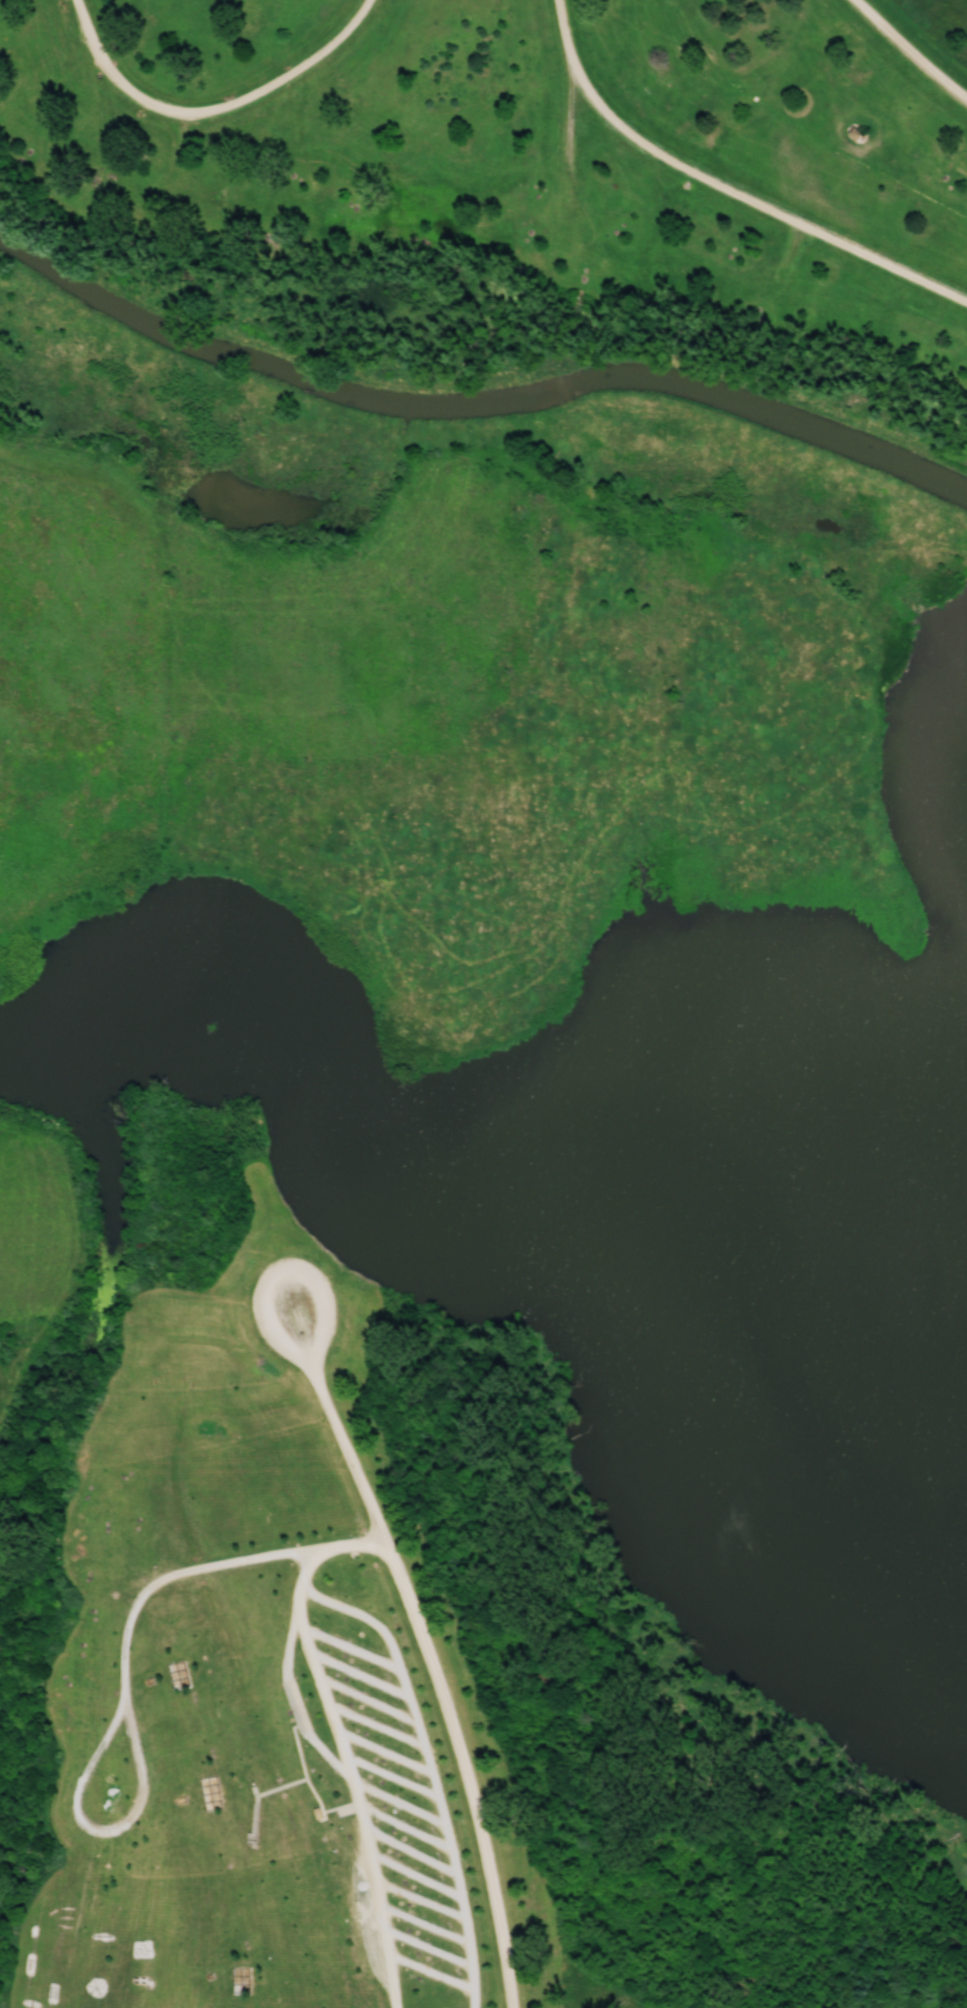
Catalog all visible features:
road: (910, 52)
road: (213, 113)
road: (726, 183)
park: (518, 193)
river: (476, 402)
road: (426, 1653)
park: (390, 1677)
road: (342, 1744)
road: (432, 1770)

